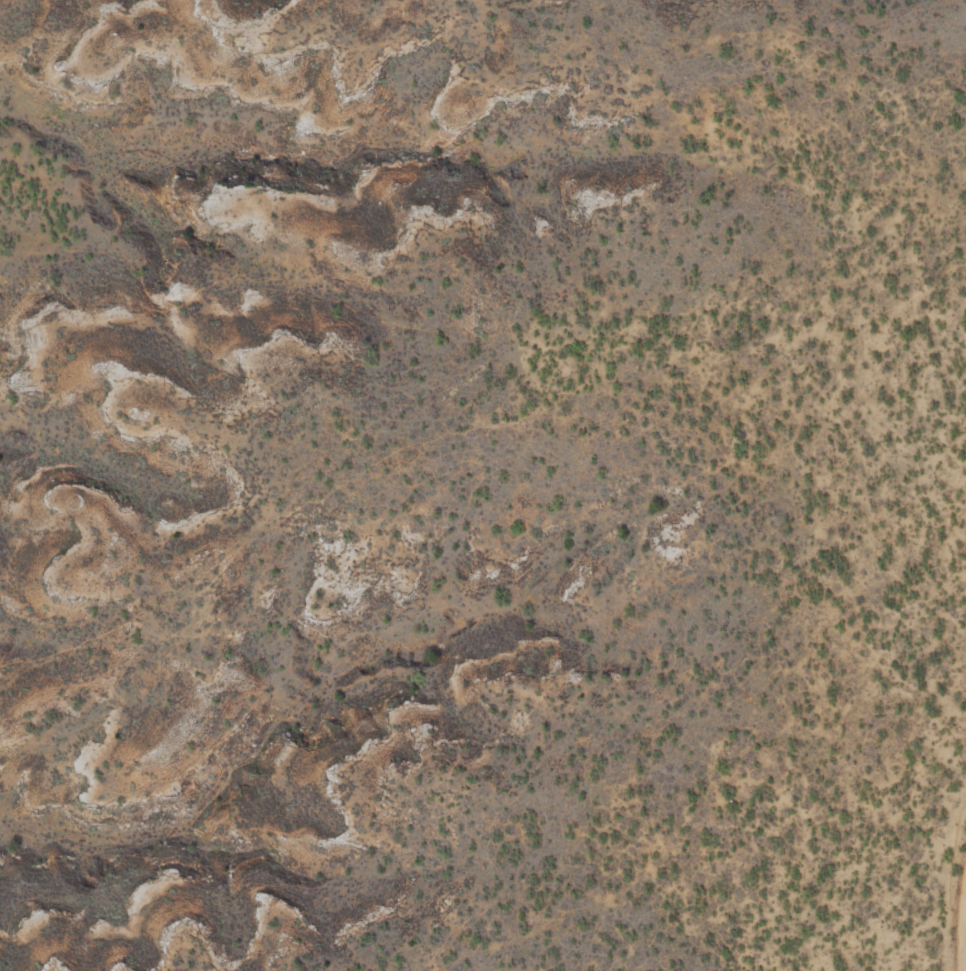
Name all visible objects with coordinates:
road: (963, 919)

